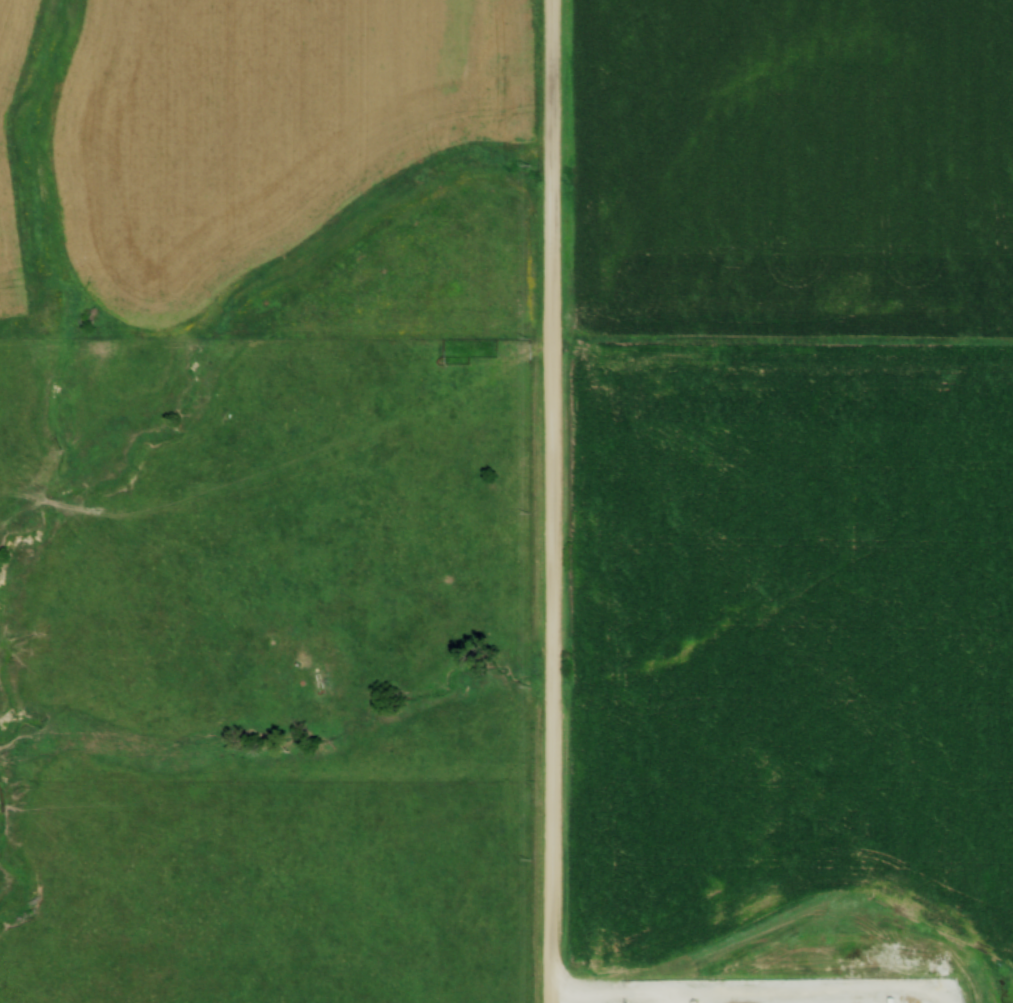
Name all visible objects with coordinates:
road: (548, 501)

